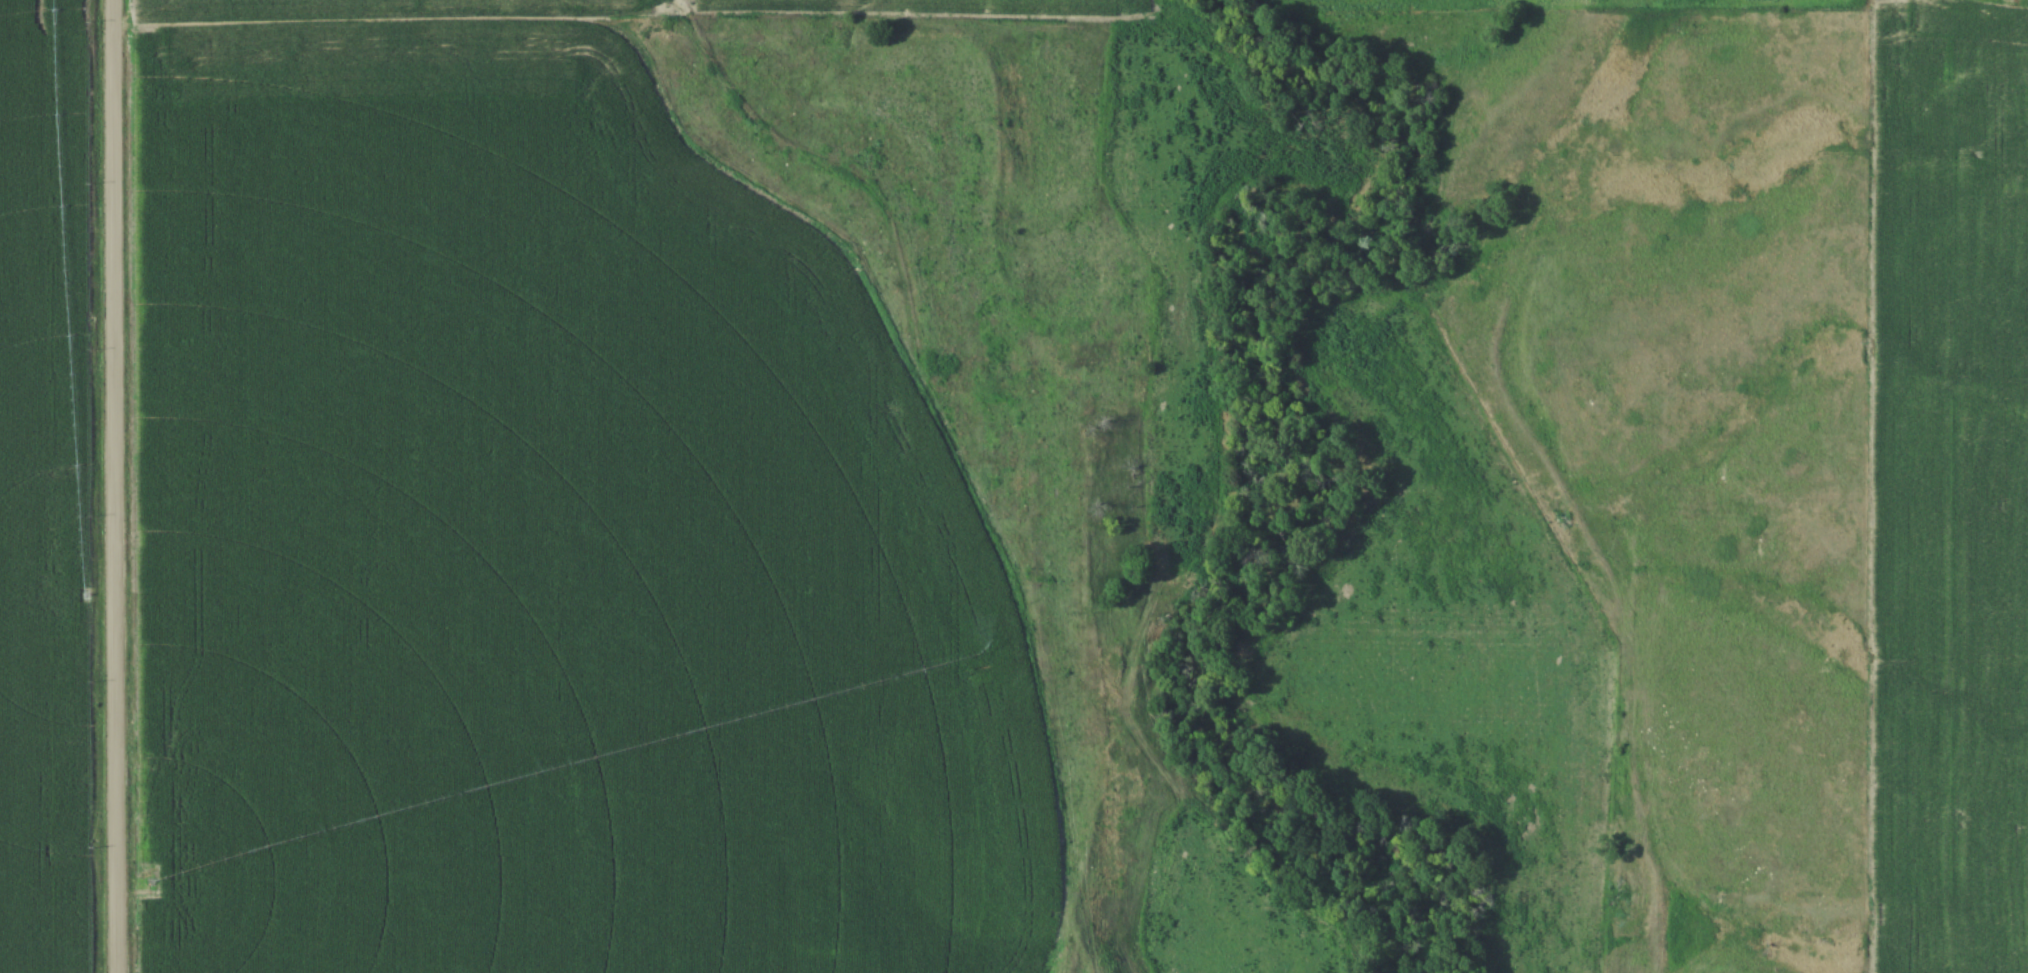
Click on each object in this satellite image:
road: (108, 486)

